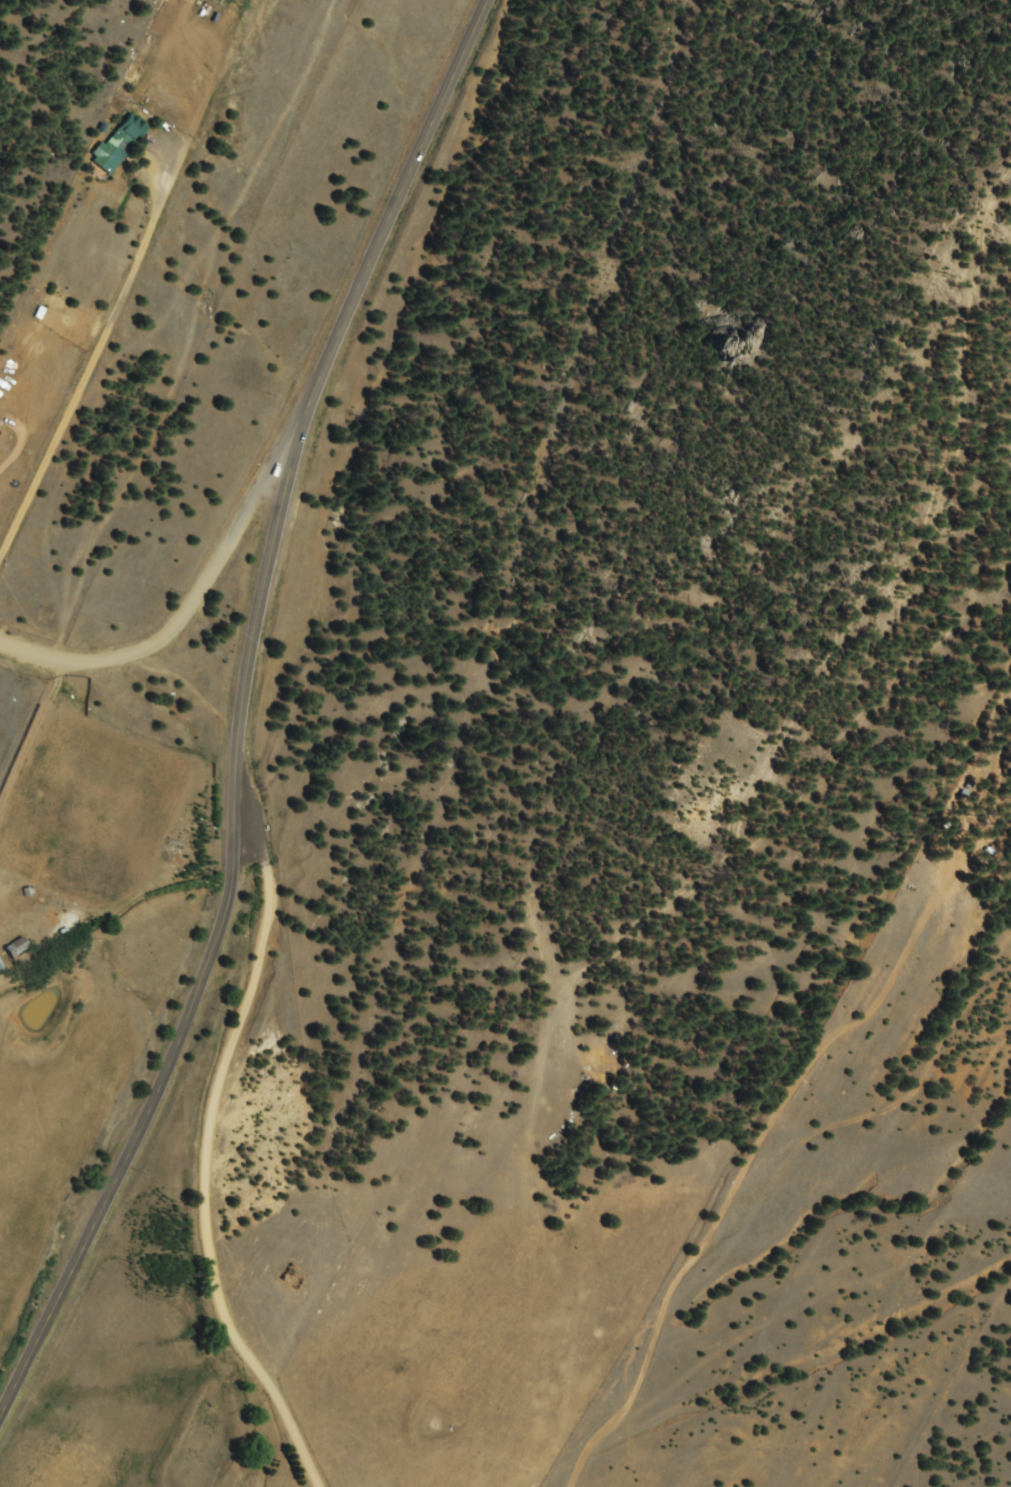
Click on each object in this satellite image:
building: (207, 0)
building: (113, 145)
road: (158, 561)
road: (9, 625)
road: (239, 706)
road: (37, 725)
building: (12, 949)
road: (245, 1138)

